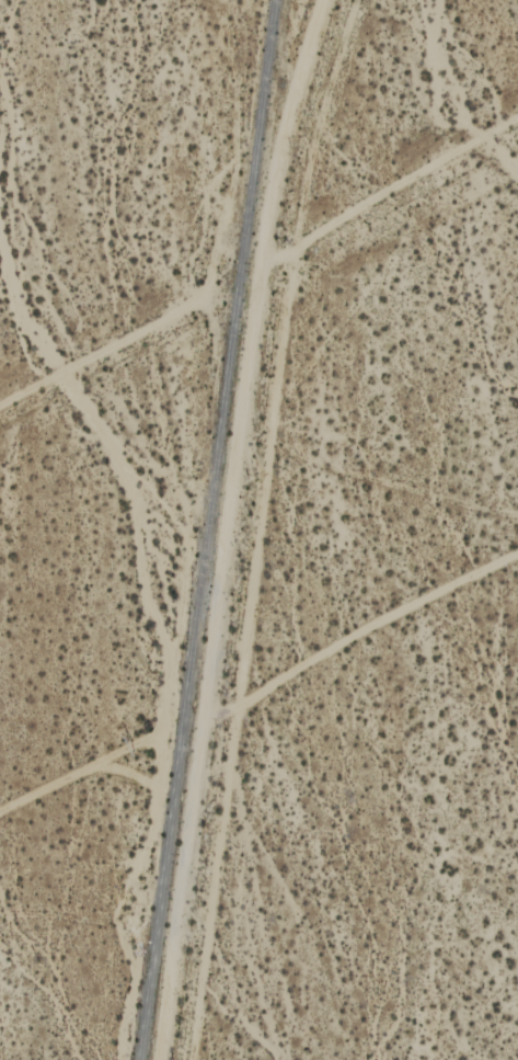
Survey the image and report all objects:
road: (111, 346)
road: (222, 526)
railway: (208, 529)
power tower: (138, 748)

